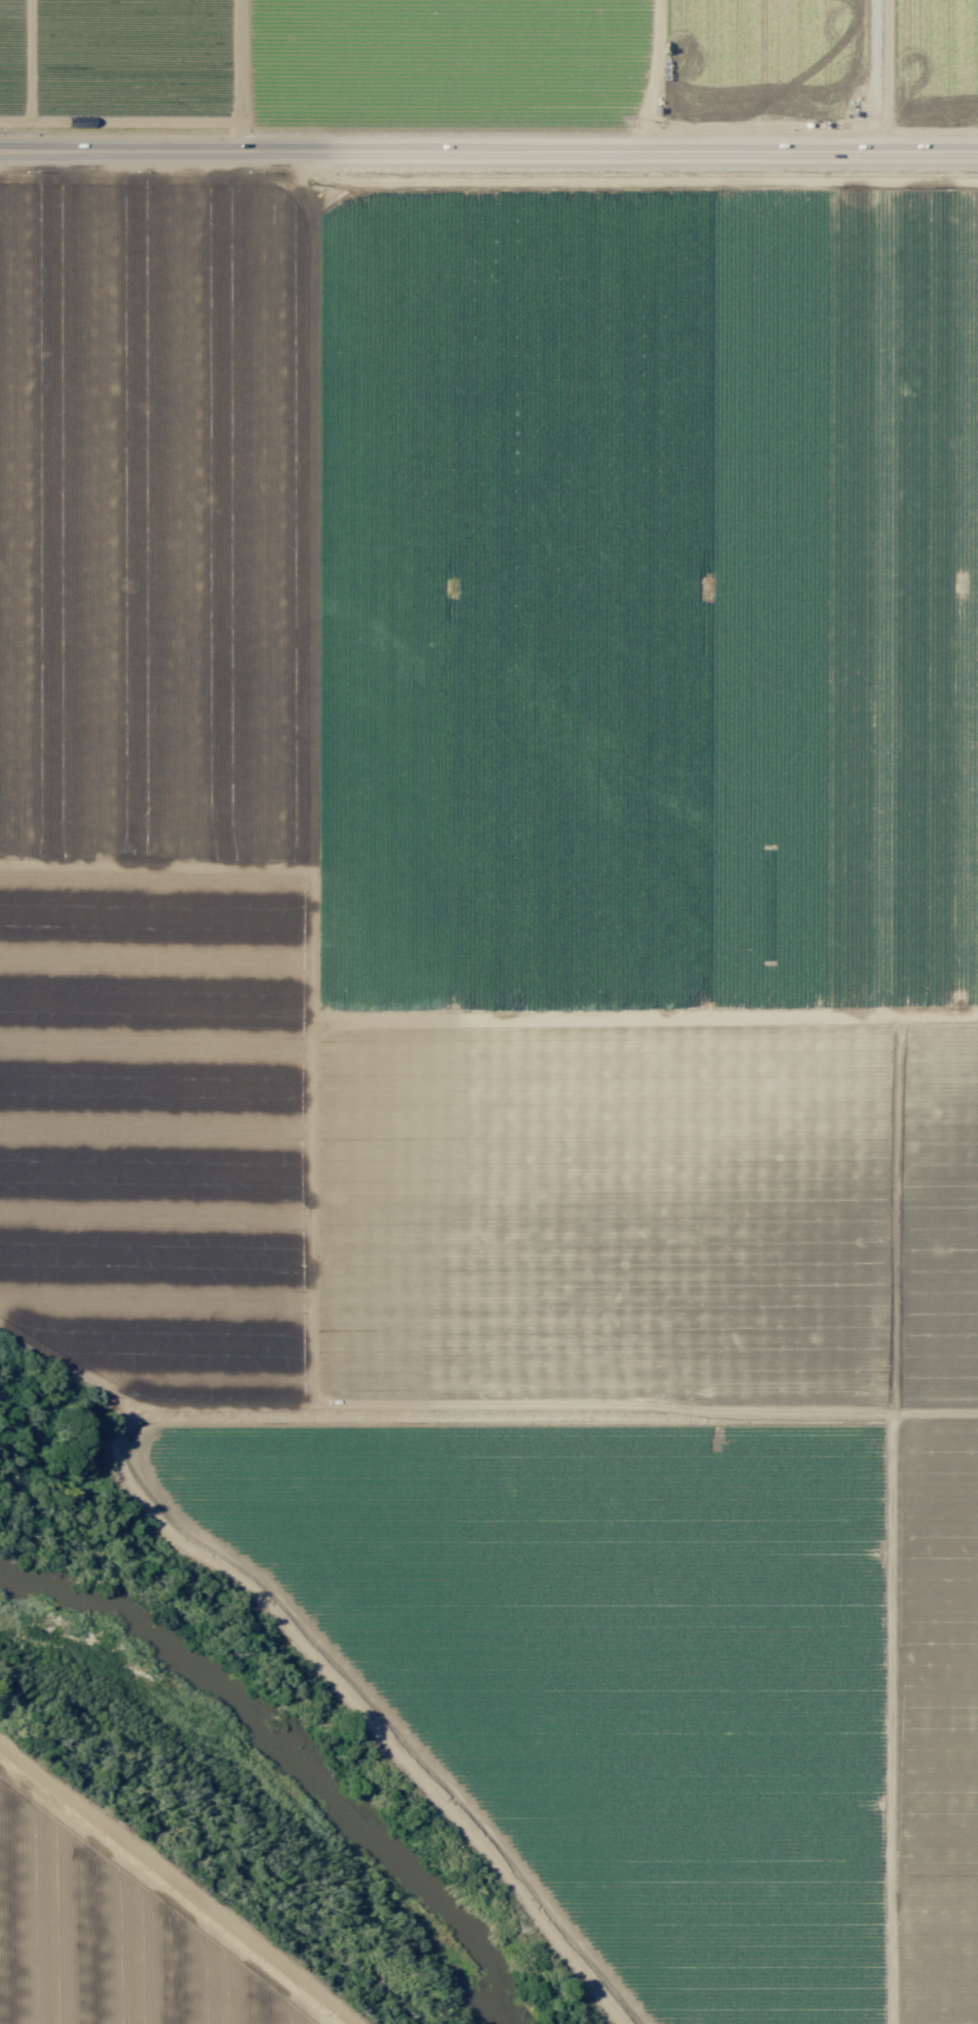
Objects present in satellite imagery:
crop: (490, 60)
road: (488, 154)
crop: (526, 1019)
road: (640, 1020)
road: (301, 1110)
crop: (118, 1914)

